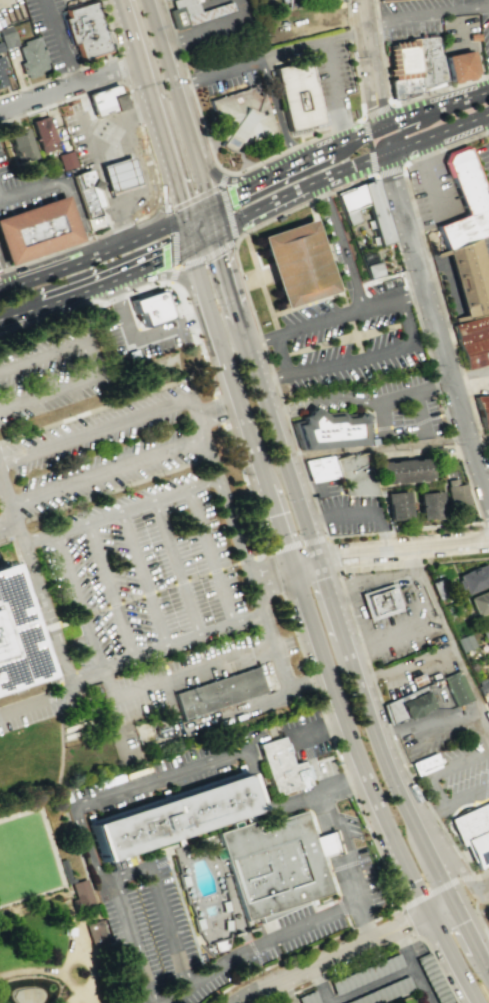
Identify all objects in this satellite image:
building: (382, 0)
parking lot: (221, 1)
road: (374, 1)
road: (347, 3)
parking lot: (11, 12)
road: (426, 12)
building: (195, 13)
parking lot: (421, 18)
parking lot: (224, 28)
parking lot: (485, 28)
building: (86, 31)
road: (216, 31)
parking lot: (54, 32)
parking lot: (50, 33)
building: (6, 37)
road: (60, 41)
road: (177, 41)
building: (0, 48)
building: (461, 48)
road: (269, 53)
road: (382, 54)
building: (31, 57)
road: (356, 61)
road: (370, 62)
building: (428, 62)
road: (85, 65)
road: (120, 68)
parking lot: (228, 68)
building: (402, 69)
building: (1, 73)
parking lot: (330, 76)
road: (68, 85)
road: (145, 88)
road: (337, 89)
road: (439, 91)
building: (297, 97)
road: (61, 100)
building: (106, 101)
road: (276, 111)
road: (376, 111)
road: (418, 112)
road: (185, 116)
building: (243, 119)
road: (486, 123)
road: (86, 124)
road: (414, 124)
road: (105, 125)
parking lot: (78, 130)
building: (43, 133)
road: (145, 141)
road: (109, 143)
building: (19, 144)
road: (369, 146)
road: (447, 147)
road: (313, 157)
building: (66, 159)
parking lot: (484, 160)
road: (134, 163)
road: (249, 166)
road: (351, 166)
road: (391, 170)
building: (118, 174)
road: (119, 174)
road: (221, 178)
road: (428, 178)
road: (105, 179)
road: (238, 179)
road: (61, 183)
road: (245, 190)
parking lot: (433, 192)
parking lot: (42, 197)
road: (178, 198)
building: (91, 201)
building: (464, 201)
road: (1, 202)
road: (126, 203)
road: (177, 207)
road: (163, 208)
traffic signals: (213, 208)
road: (167, 214)
building: (376, 214)
road: (117, 217)
traffic signals: (185, 219)
road: (175, 222)
road: (423, 222)
building: (36, 231)
road: (189, 232)
traffic signals: (219, 233)
road: (206, 239)
road: (80, 243)
traffic signals: (193, 245)
road: (341, 245)
road: (224, 247)
parking lot: (485, 251)
road: (329, 257)
road: (68, 263)
building: (295, 263)
parking lot: (1, 264)
building: (373, 269)
road: (4, 273)
road: (446, 273)
road: (164, 274)
road: (172, 275)
road: (107, 276)
road: (254, 277)
building: (467, 278)
road: (260, 284)
road: (234, 289)
road: (410, 292)
road: (306, 304)
road: (372, 304)
road: (10, 310)
building: (149, 310)
road: (444, 314)
road: (253, 317)
road: (405, 319)
road: (434, 327)
parking lot: (344, 328)
road: (299, 329)
building: (472, 329)
road: (194, 331)
parking lot: (140, 334)
road: (354, 335)
road: (343, 339)
road: (140, 342)
road: (425, 350)
building: (474, 352)
road: (280, 355)
road: (350, 360)
road: (90, 367)
parking lot: (55, 374)
road: (275, 377)
road: (433, 388)
road: (416, 395)
road: (342, 397)
road: (219, 406)
parking lot: (387, 406)
building: (483, 410)
road: (114, 425)
building: (327, 429)
road: (387, 446)
building: (320, 467)
road: (106, 470)
building: (402, 472)
building: (353, 473)
parking lot: (324, 487)
road: (310, 491)
building: (457, 495)
building: (397, 505)
building: (430, 505)
road: (228, 509)
parking lot: (351, 513)
road: (352, 514)
road: (8, 528)
road: (484, 528)
road: (404, 531)
road: (70, 532)
road: (386, 541)
road: (39, 543)
road: (297, 543)
road: (447, 543)
road: (362, 552)
road: (333, 553)
parking lot: (141, 554)
road: (260, 554)
road: (209, 556)
road: (244, 559)
road: (407, 560)
road: (228, 565)
road: (176, 568)
road: (213, 570)
road: (287, 570)
road: (275, 574)
road: (196, 575)
road: (395, 577)
road: (141, 580)
building: (473, 580)
road: (179, 581)
road: (163, 587)
road: (109, 591)
road: (147, 593)
road: (131, 598)
building: (380, 601)
road: (114, 604)
building: (480, 604)
road: (97, 610)
road: (80, 617)
road: (315, 622)
road: (66, 623)
road: (51, 629)
road: (39, 633)
building: (485, 633)
parking lot: (397, 637)
road: (449, 637)
road: (392, 638)
building: (464, 642)
building: (12, 645)
road: (355, 663)
road: (408, 664)
road: (367, 665)
road: (177, 675)
road: (80, 677)
building: (266, 678)
building: (482, 685)
building: (456, 688)
road: (290, 693)
building: (217, 694)
road: (38, 700)
building: (414, 702)
building: (487, 704)
road: (431, 718)
road: (324, 726)
parking lot: (303, 736)
road: (337, 754)
building: (426, 765)
building: (280, 767)
road: (443, 770)
road: (174, 772)
parking lot: (459, 775)
parking lot: (157, 779)
road: (343, 786)
road: (453, 804)
building: (172, 818)
road: (324, 822)
building: (473, 831)
road: (326, 843)
park: (24, 858)
road: (338, 860)
road: (450, 860)
parking lot: (365, 862)
building: (275, 863)
road: (346, 866)
building: (64, 870)
road: (487, 887)
road: (476, 890)
building: (80, 893)
road: (423, 897)
road: (481, 908)
road: (166, 909)
park: (52, 910)
road: (479, 921)
parking lot: (149, 924)
building: (94, 931)
road: (73, 937)
road: (481, 937)
road: (135, 943)
parking lot: (275, 943)
road: (263, 945)
road: (349, 950)
road: (301, 952)
road: (437, 965)
road: (412, 966)
road: (46, 970)
road: (341, 970)
road: (90, 973)
building: (366, 973)
building: (432, 978)
road: (321, 984)
road: (371, 984)
building: (384, 991)
building: (27, 995)
road: (473, 995)
road: (92, 997)
building: (308, 997)
road: (457, 1001)

